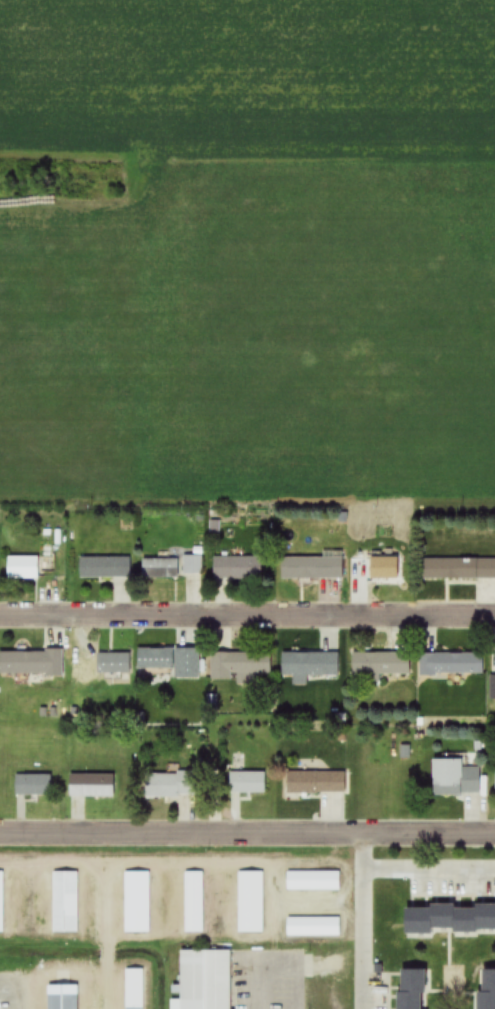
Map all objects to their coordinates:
crop: (247, 77)
building: (192, 565)
building: (22, 567)
building: (105, 567)
building: (313, 567)
building: (237, 568)
building: (384, 568)
building: (160, 569)
building: (458, 569)
road: (247, 615)
building: (171, 661)
building: (31, 662)
building: (113, 663)
building: (238, 664)
building: (310, 664)
building: (381, 664)
building: (451, 664)
building: (492, 688)
building: (454, 779)
building: (247, 783)
building: (315, 783)
building: (33, 784)
building: (171, 785)
building: (90, 786)
road: (247, 832)
road: (368, 851)
road: (368, 876)
building: (313, 882)
building: (250, 897)
building: (138, 898)
building: (1, 902)
building: (64, 903)
building: (194, 903)
building: (449, 920)
building: (204, 981)
building: (134, 989)
building: (486, 989)
building: (411, 990)
building: (64, 996)

